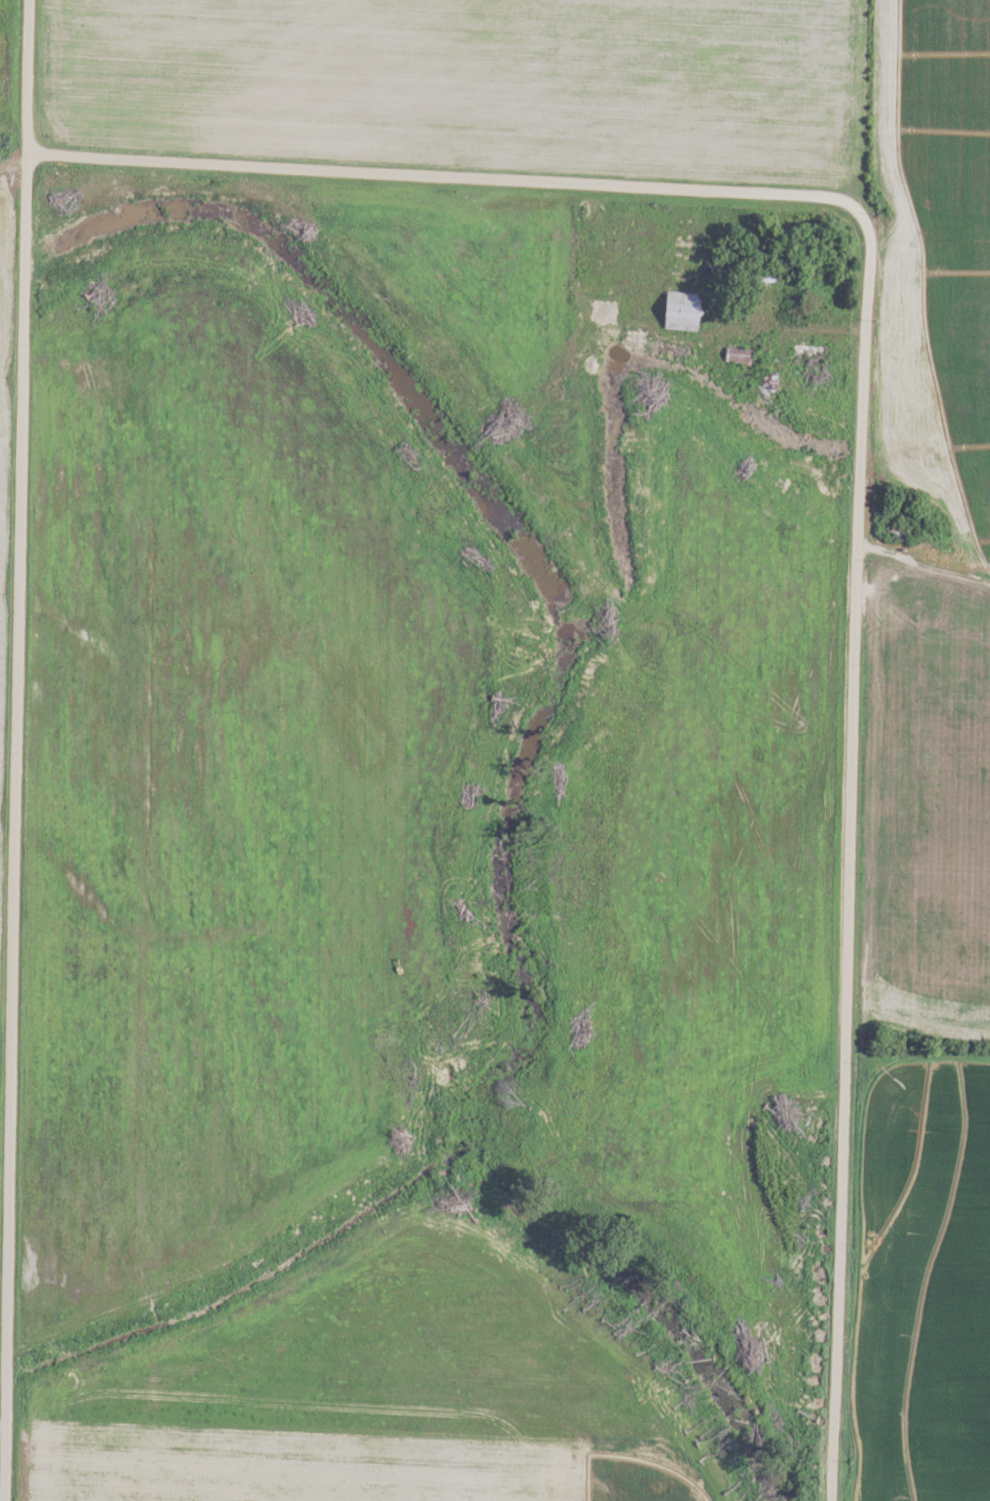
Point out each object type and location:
building: (808, 271)
building: (763, 281)
building: (684, 311)
road: (787, 326)
building: (732, 355)
building: (769, 382)
road: (861, 436)
road: (16, 750)

